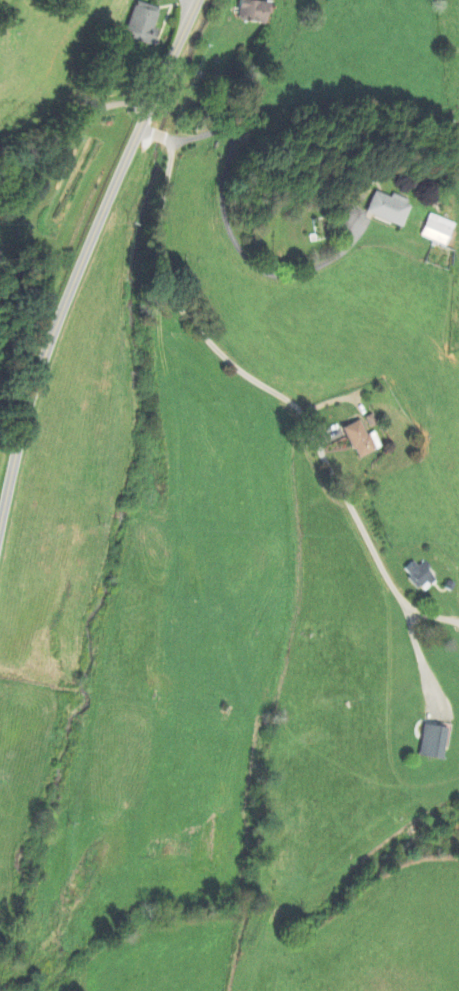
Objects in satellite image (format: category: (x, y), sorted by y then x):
building: (253, 12)
building: (142, 24)
road: (72, 125)
building: (388, 209)
building: (438, 232)
road: (234, 239)
road: (80, 262)
road: (10, 322)
road: (264, 387)
building: (362, 441)
building: (420, 576)
building: (433, 741)

